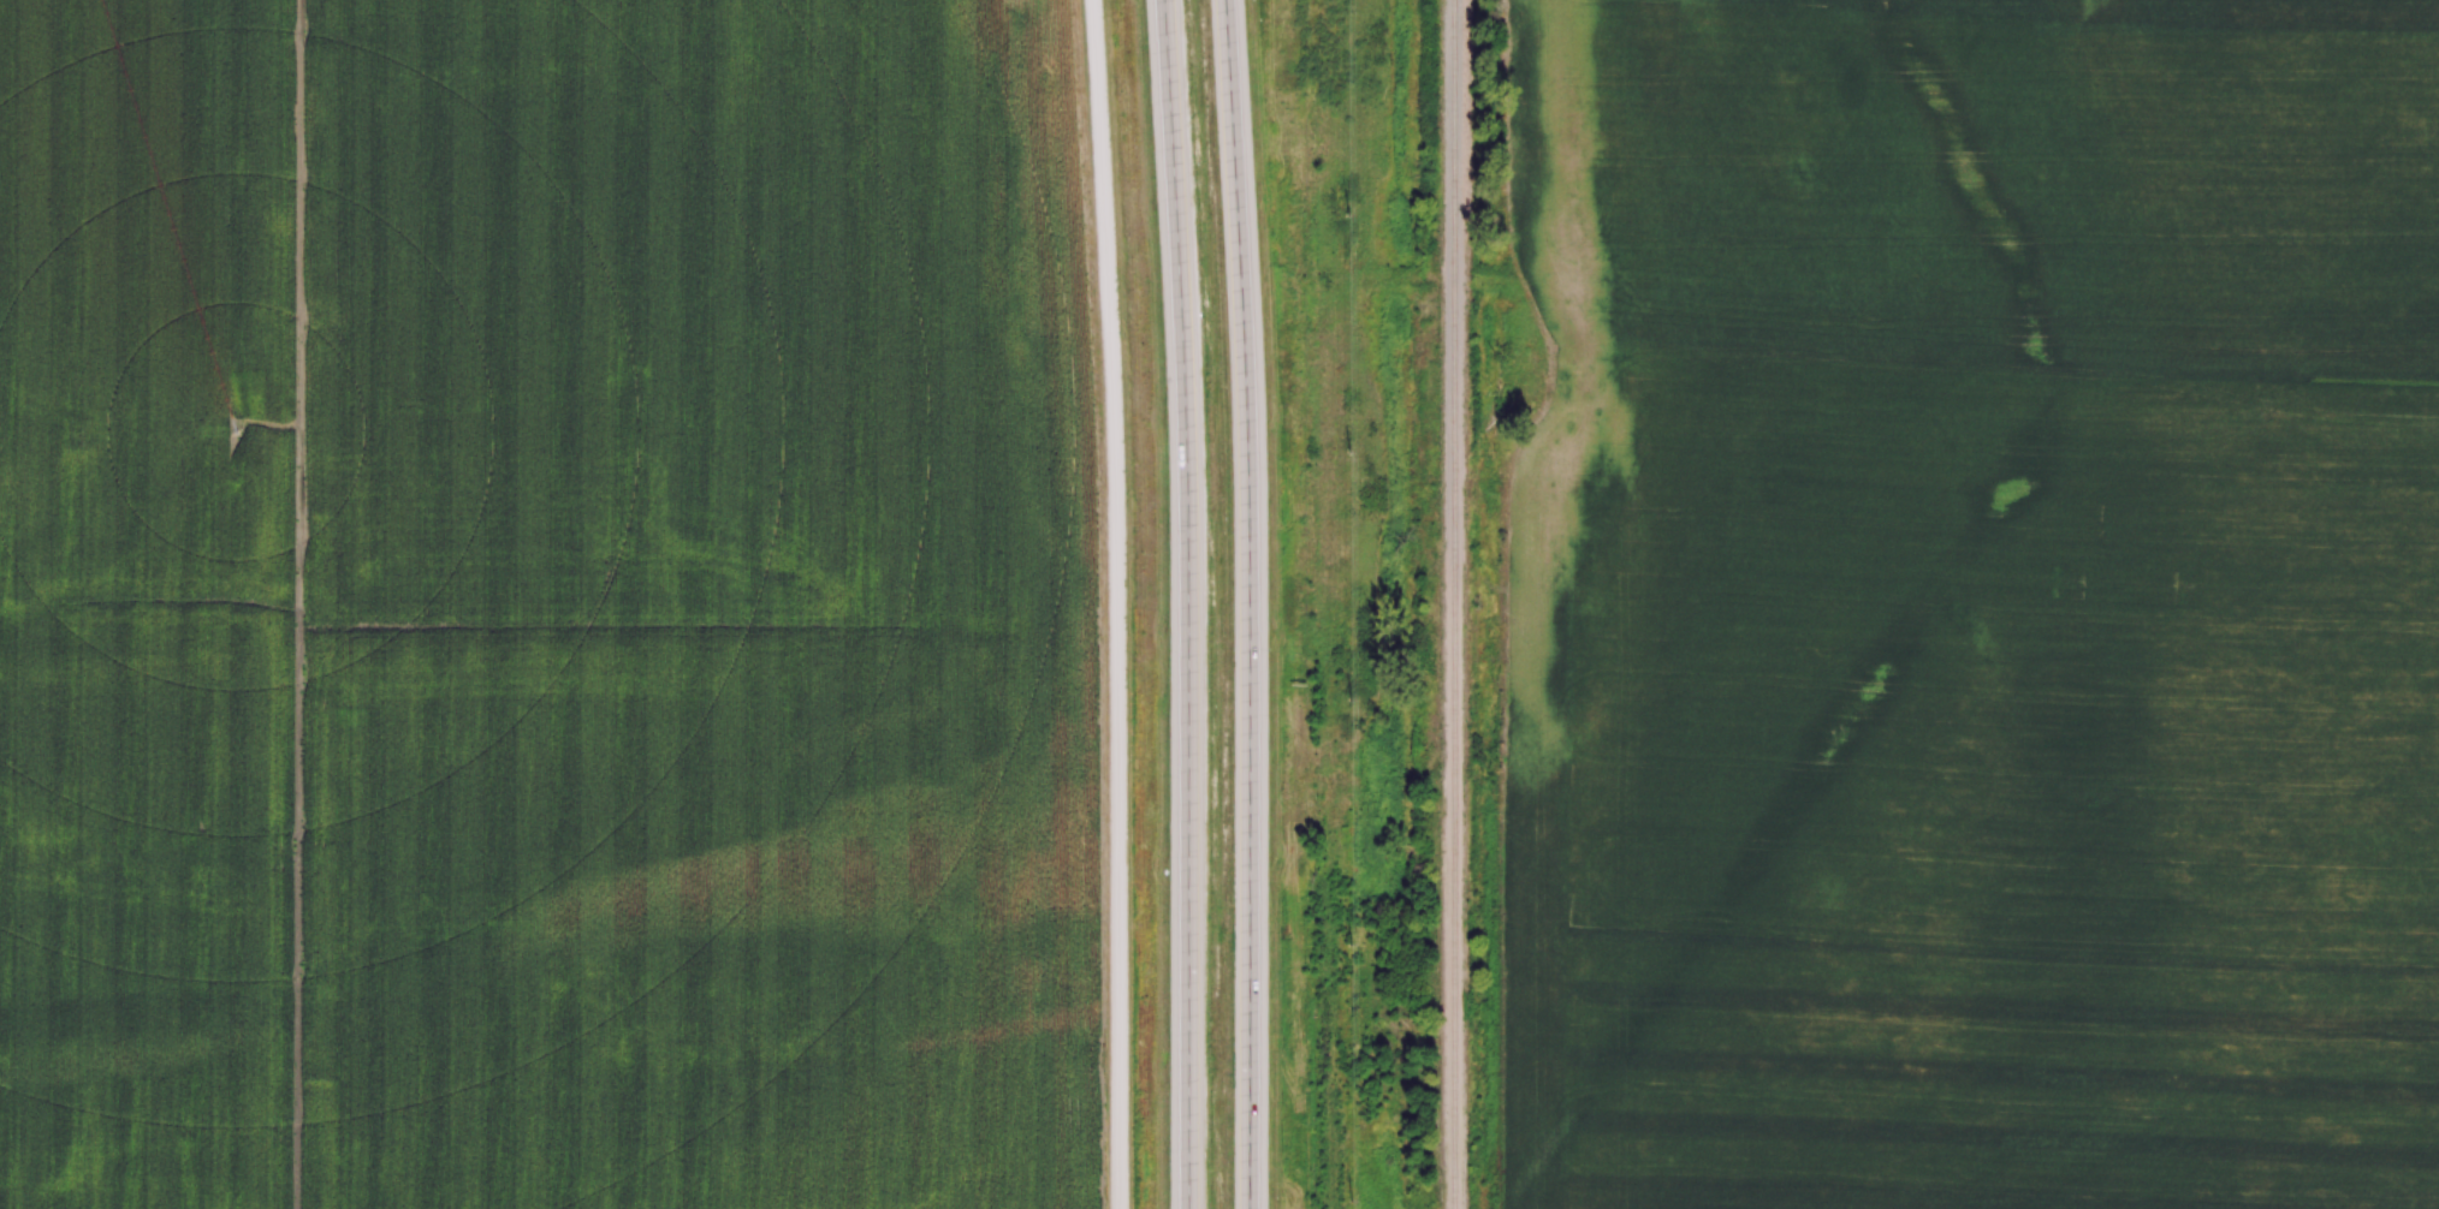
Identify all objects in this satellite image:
road: (1117, 603)
road: (1187, 603)
road: (1250, 603)
railway: (1454, 604)

